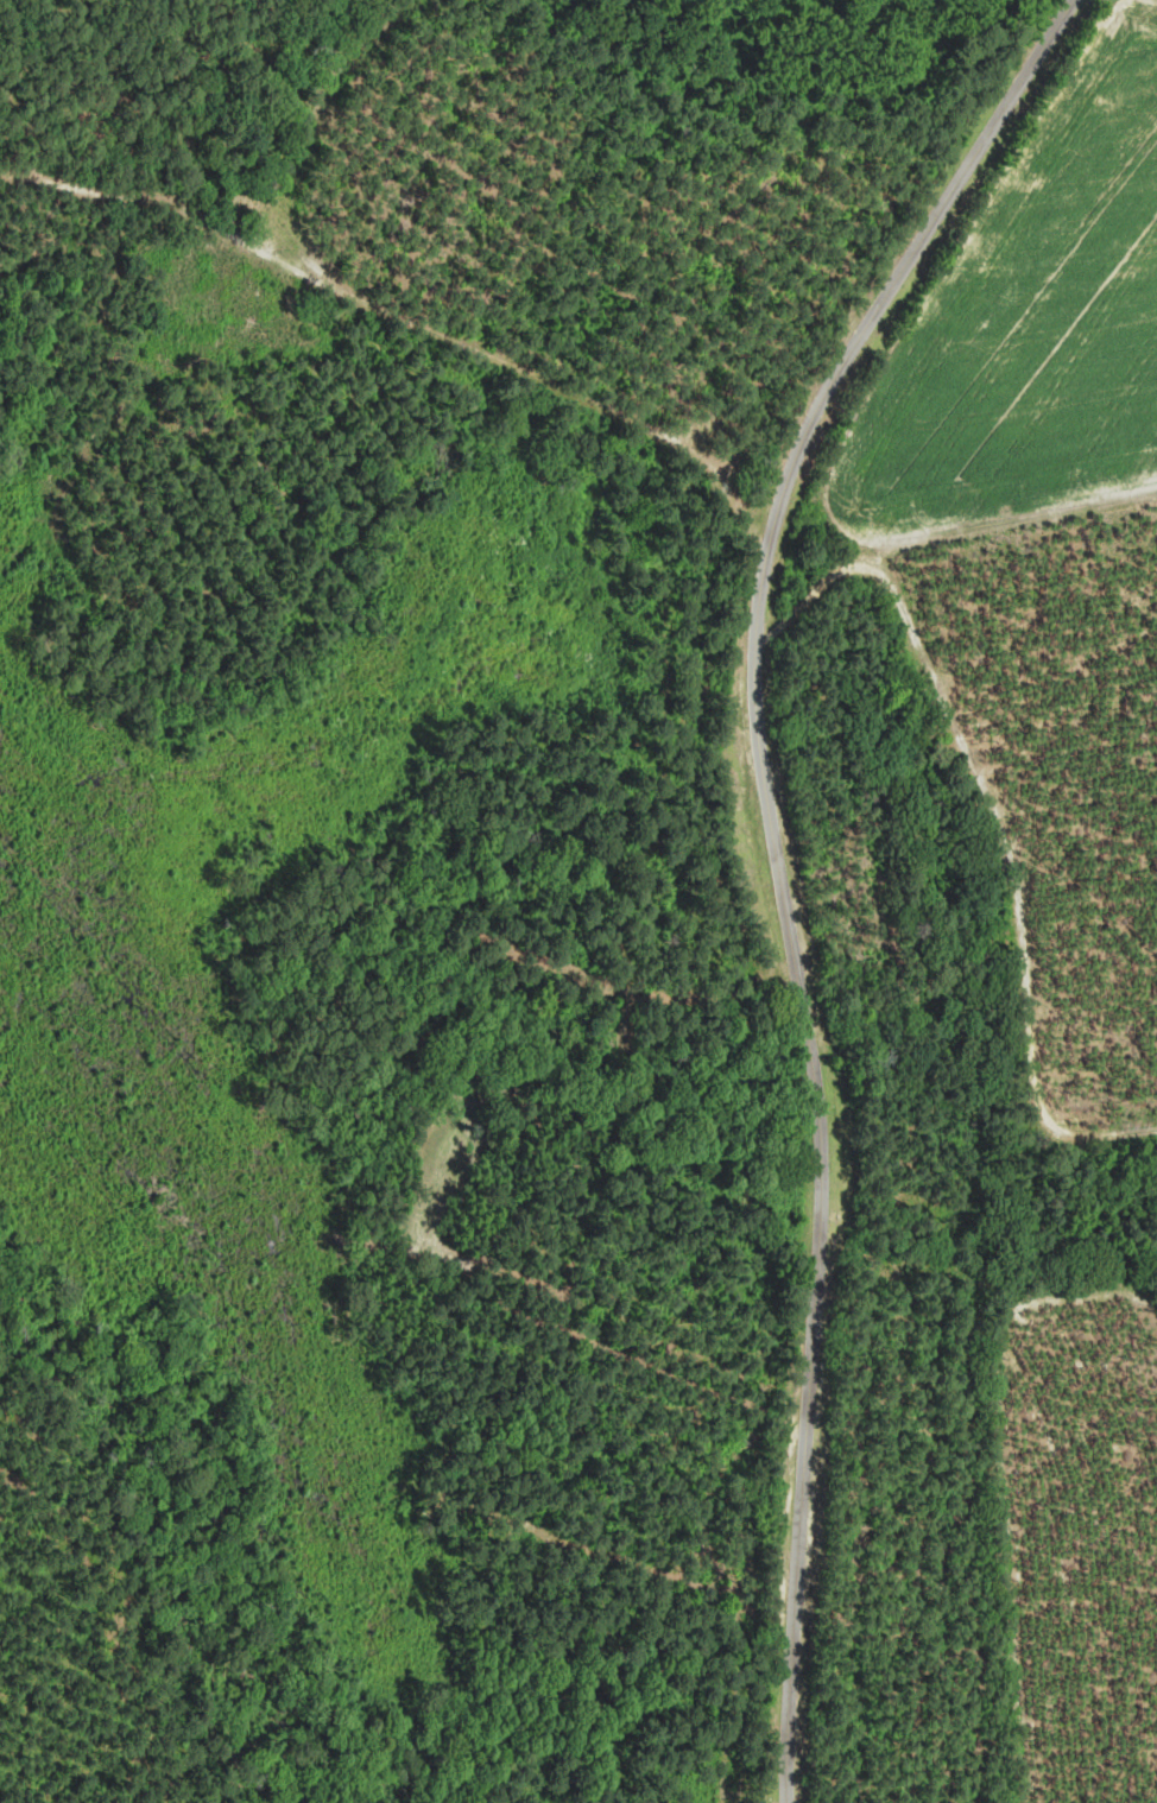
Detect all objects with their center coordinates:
road: (778, 860)

